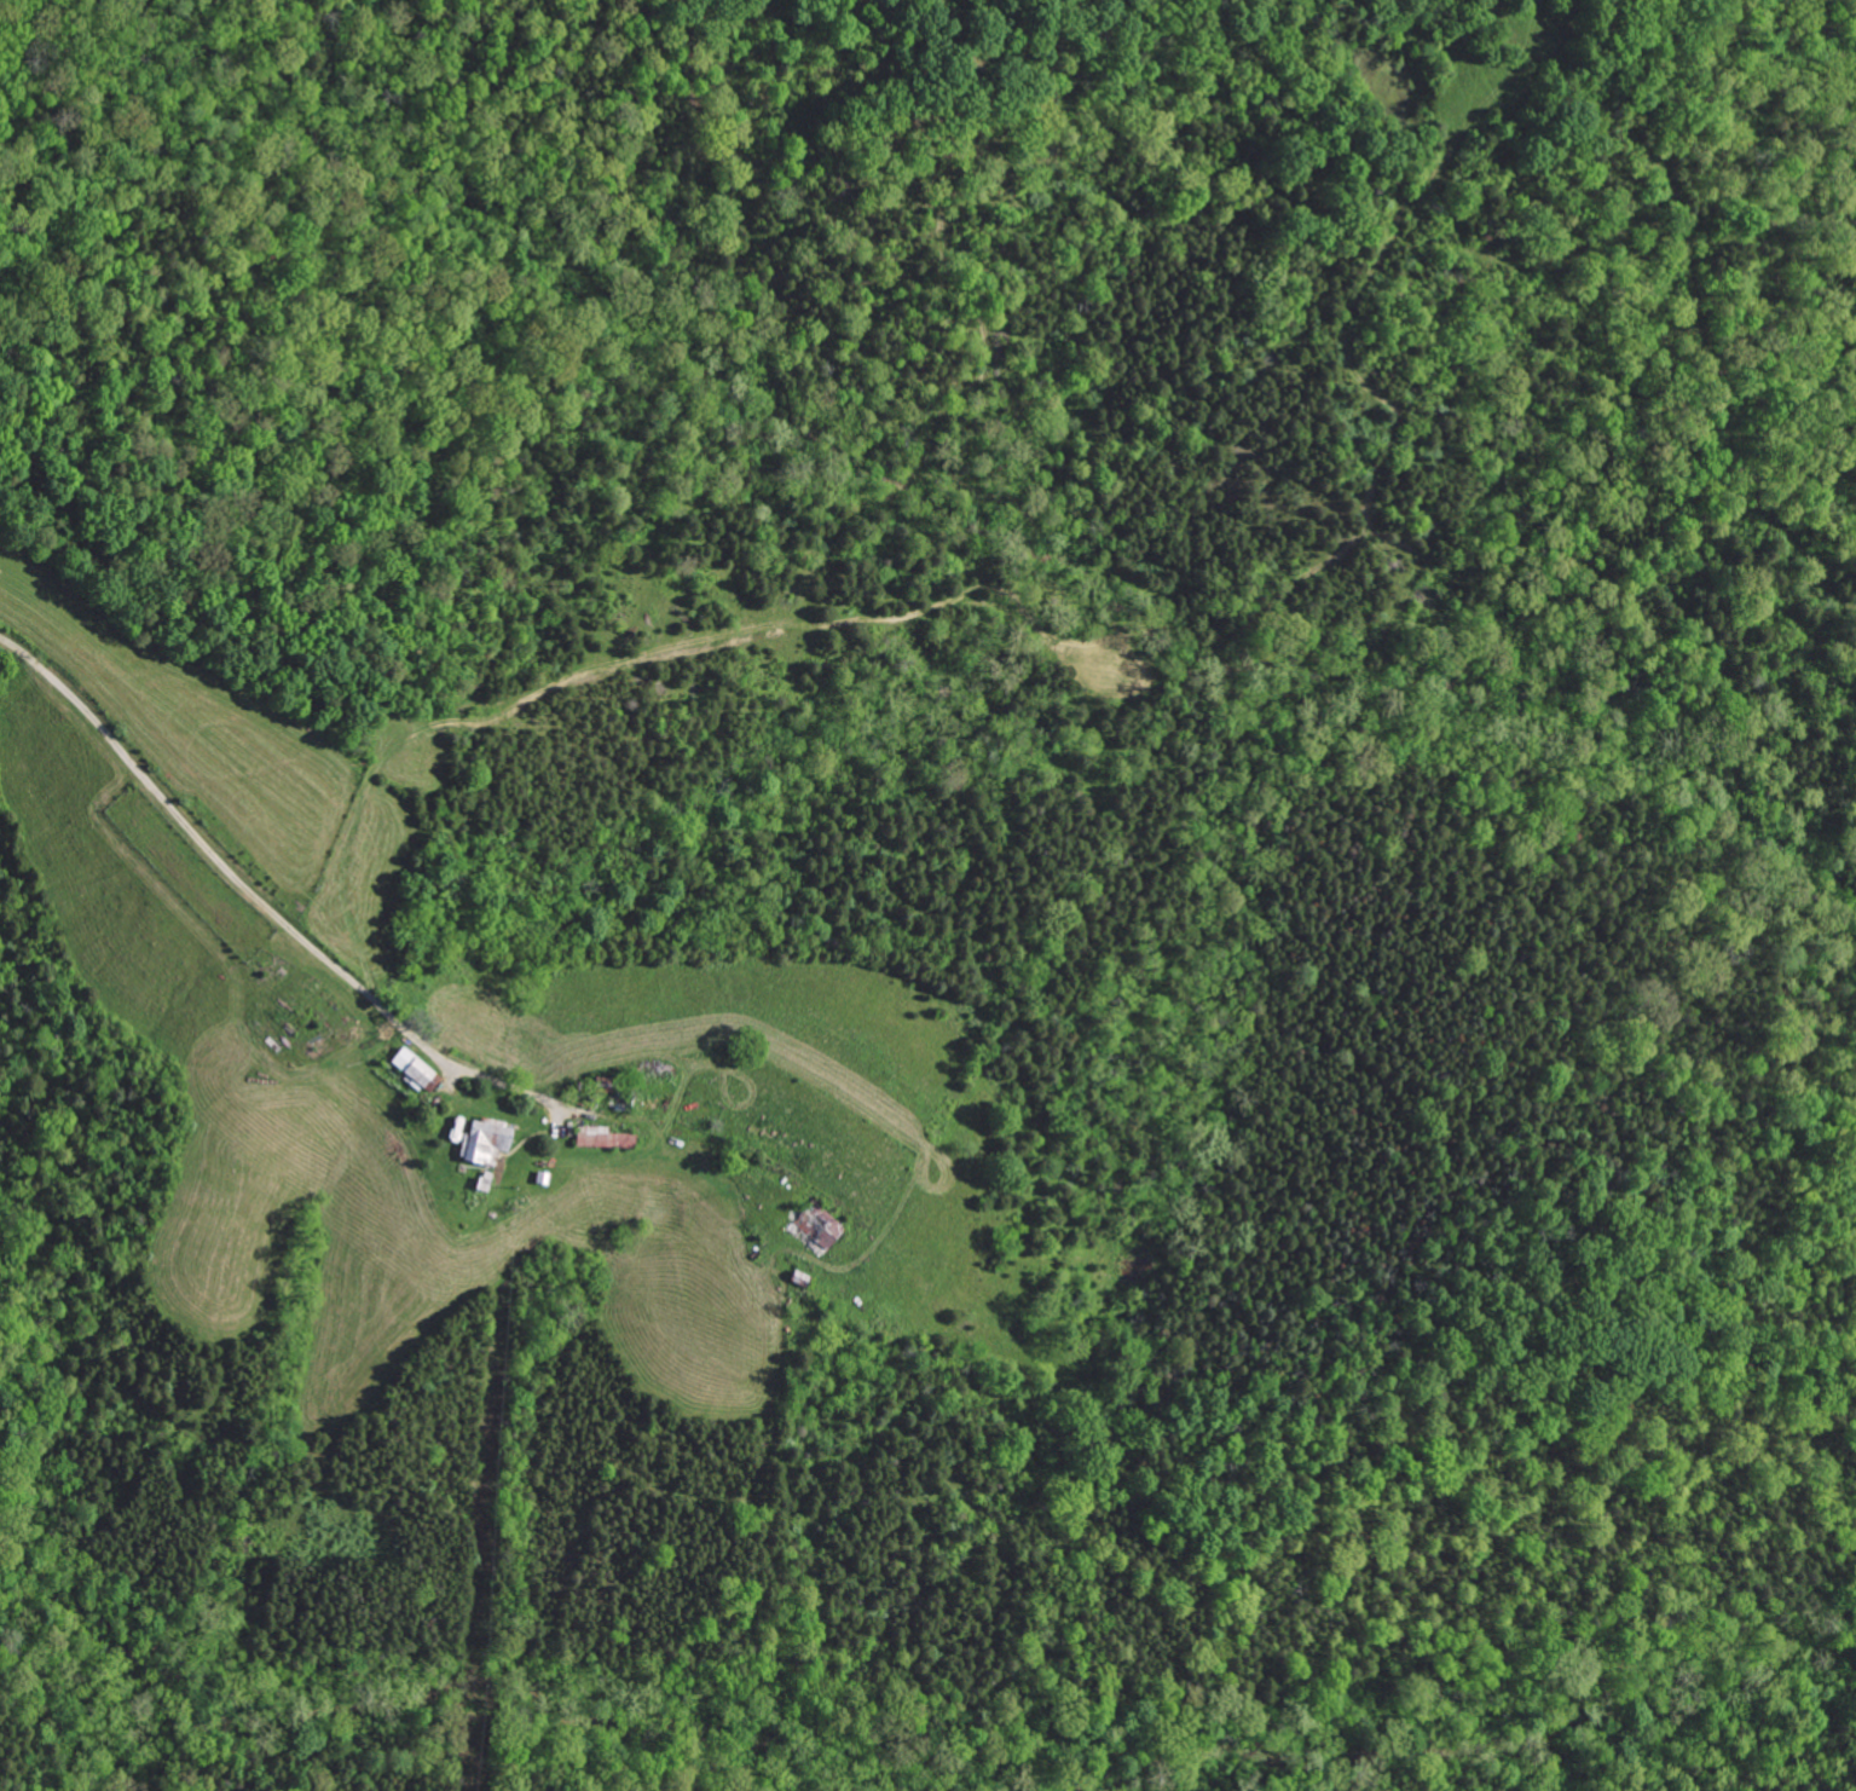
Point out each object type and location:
road: (289, 967)
building: (411, 1069)
building: (601, 1138)
building: (482, 1140)
building: (810, 1230)

